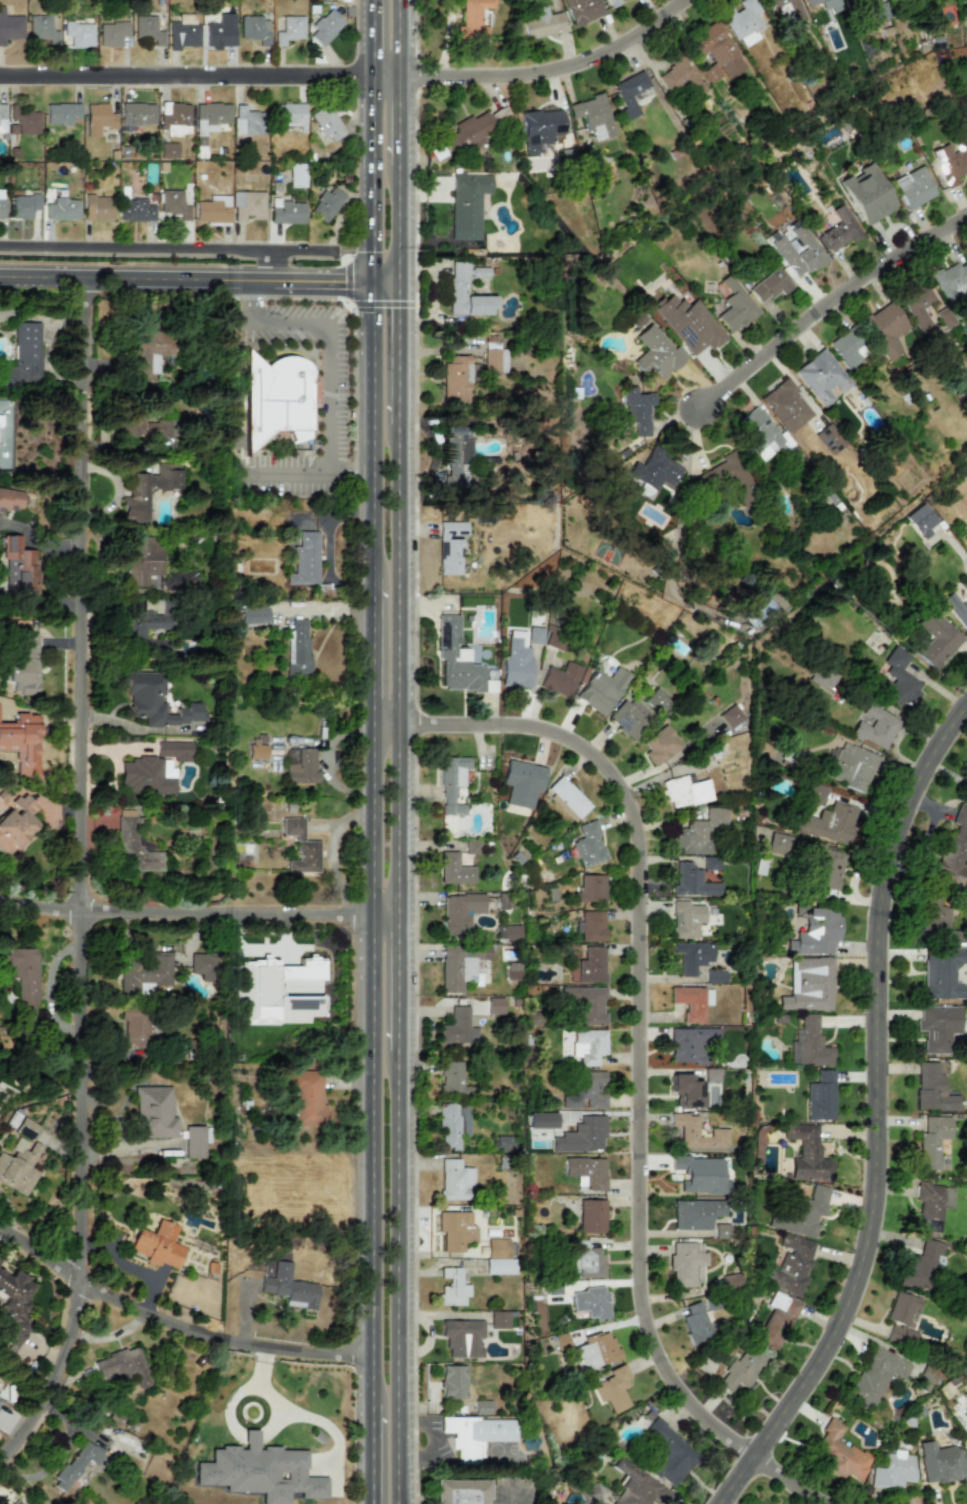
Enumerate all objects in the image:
building: (853, 0)
building: (613, 2)
building: (811, 2)
building: (781, 4)
building: (583, 10)
building: (879, 11)
building: (473, 19)
building: (743, 22)
building: (543, 23)
building: (10, 26)
building: (325, 27)
building: (42, 29)
building: (255, 29)
building: (289, 29)
building: (146, 30)
building: (183, 31)
building: (220, 31)
building: (79, 33)
building: (112, 33)
road: (373, 37)
road: (398, 38)
building: (716, 52)
road: (550, 68)
building: (677, 74)
road: (186, 75)
road: (386, 76)
building: (629, 92)
building: (61, 113)
building: (137, 113)
building: (289, 115)
building: (502, 115)
building: (592, 116)
building: (210, 117)
building: (2, 118)
building: (97, 118)
building: (174, 118)
building: (25, 120)
building: (246, 121)
building: (326, 122)
building: (965, 122)
road: (399, 126)
building: (540, 128)
building: (470, 132)
building: (167, 150)
building: (951, 162)
building: (296, 175)
road: (373, 179)
building: (913, 187)
building: (867, 194)
building: (1, 203)
building: (327, 203)
building: (246, 204)
building: (23, 205)
building: (174, 205)
building: (467, 205)
building: (98, 208)
building: (62, 209)
building: (212, 209)
building: (135, 210)
building: (285, 211)
road: (398, 230)
building: (840, 230)
road: (166, 248)
building: (797, 250)
road: (273, 266)
road: (186, 281)
building: (951, 281)
road: (385, 284)
building: (770, 285)
building: (458, 286)
road: (297, 297)
road: (359, 302)
building: (917, 305)
building: (734, 306)
road: (827, 306)
building: (689, 324)
building: (885, 328)
building: (848, 348)
building: (148, 350)
road: (398, 353)
building: (656, 353)
building: (23, 355)
road: (331, 356)
building: (494, 356)
building: (821, 376)
building: (274, 399)
building: (786, 406)
building: (637, 409)
building: (143, 425)
road: (373, 428)
building: (761, 434)
building: (829, 439)
building: (457, 457)
building: (654, 469)
road: (285, 471)
building: (735, 480)
building: (147, 489)
building: (10, 500)
building: (921, 520)
building: (450, 546)
building: (305, 559)
building: (142, 560)
building: (18, 569)
road: (398, 572)
building: (964, 585)
road: (323, 608)
building: (957, 609)
building: (759, 612)
building: (253, 614)
building: (146, 622)
building: (535, 635)
building: (936, 639)
building: (554, 641)
road: (373, 647)
building: (297, 648)
building: (23, 657)
building: (458, 660)
building: (516, 662)
building: (822, 676)
building: (561, 679)
building: (895, 679)
building: (602, 690)
building: (656, 700)
building: (156, 701)
building: (731, 716)
building: (629, 718)
road: (385, 723)
building: (874, 726)
road: (415, 727)
building: (21, 741)
building: (660, 745)
building: (257, 747)
building: (174, 749)
building: (302, 767)
building: (852, 767)
building: (146, 774)
building: (522, 783)
building: (451, 784)
building: (685, 791)
building: (814, 794)
building: (569, 797)
road: (373, 820)
road: (398, 820)
building: (16, 822)
building: (829, 823)
building: (699, 831)
building: (587, 843)
building: (779, 843)
building: (300, 846)
building: (134, 847)
building: (954, 848)
building: (711, 863)
building: (826, 868)
building: (454, 870)
building: (692, 881)
road: (84, 883)
building: (591, 888)
road: (185, 911)
building: (460, 911)
road: (385, 917)
building: (934, 918)
building: (686, 919)
building: (592, 926)
building: (508, 932)
building: (816, 933)
building: (693, 956)
building: (204, 965)
building: (460, 965)
building: (589, 966)
building: (513, 971)
building: (144, 972)
building: (941, 972)
building: (711, 976)
building: (23, 977)
building: (809, 985)
building: (278, 990)
road: (398, 998)
building: (692, 1002)
building: (586, 1003)
building: (495, 1005)
road: (638, 1016)
building: (136, 1025)
building: (938, 1027)
building: (458, 1028)
building: (691, 1043)
building: (809, 1044)
building: (588, 1046)
building: (453, 1079)
building: (933, 1089)
building: (587, 1091)
building: (686, 1091)
building: (820, 1096)
building: (307, 1097)
building: (154, 1112)
road: (874, 1115)
road: (414, 1124)
building: (452, 1125)
building: (718, 1132)
building: (582, 1136)
building: (195, 1140)
building: (932, 1141)
building: (502, 1143)
building: (808, 1154)
building: (21, 1158)
building: (587, 1171)
building: (701, 1174)
building: (455, 1180)
building: (931, 1205)
road: (373, 1210)
building: (695, 1213)
building: (801, 1213)
building: (591, 1216)
building: (455, 1230)
building: (157, 1244)
building: (498, 1257)
building: (585, 1260)
building: (685, 1262)
building: (790, 1265)
road: (135, 1267)
building: (920, 1267)
road: (397, 1272)
building: (729, 1281)
building: (289, 1287)
building: (452, 1288)
building: (591, 1302)
building: (12, 1310)
road: (441, 1315)
building: (902, 1318)
road: (175, 1319)
building: (499, 1320)
building: (776, 1320)
building: (695, 1323)
building: (463, 1337)
building: (595, 1351)
building: (123, 1365)
building: (741, 1370)
building: (877, 1375)
building: (453, 1382)
building: (613, 1389)
building: (0, 1398)
building: (482, 1407)
road: (299, 1413)
building: (476, 1435)
road: (434, 1441)
building: (966, 1446)
building: (838, 1452)
building: (670, 1453)
building: (940, 1463)
building: (76, 1464)
building: (893, 1470)
building: (259, 1471)
road: (789, 1480)
road: (397, 1485)
building: (638, 1487)
building: (461, 1491)
road: (512, 1497)
building: (16, 1502)

